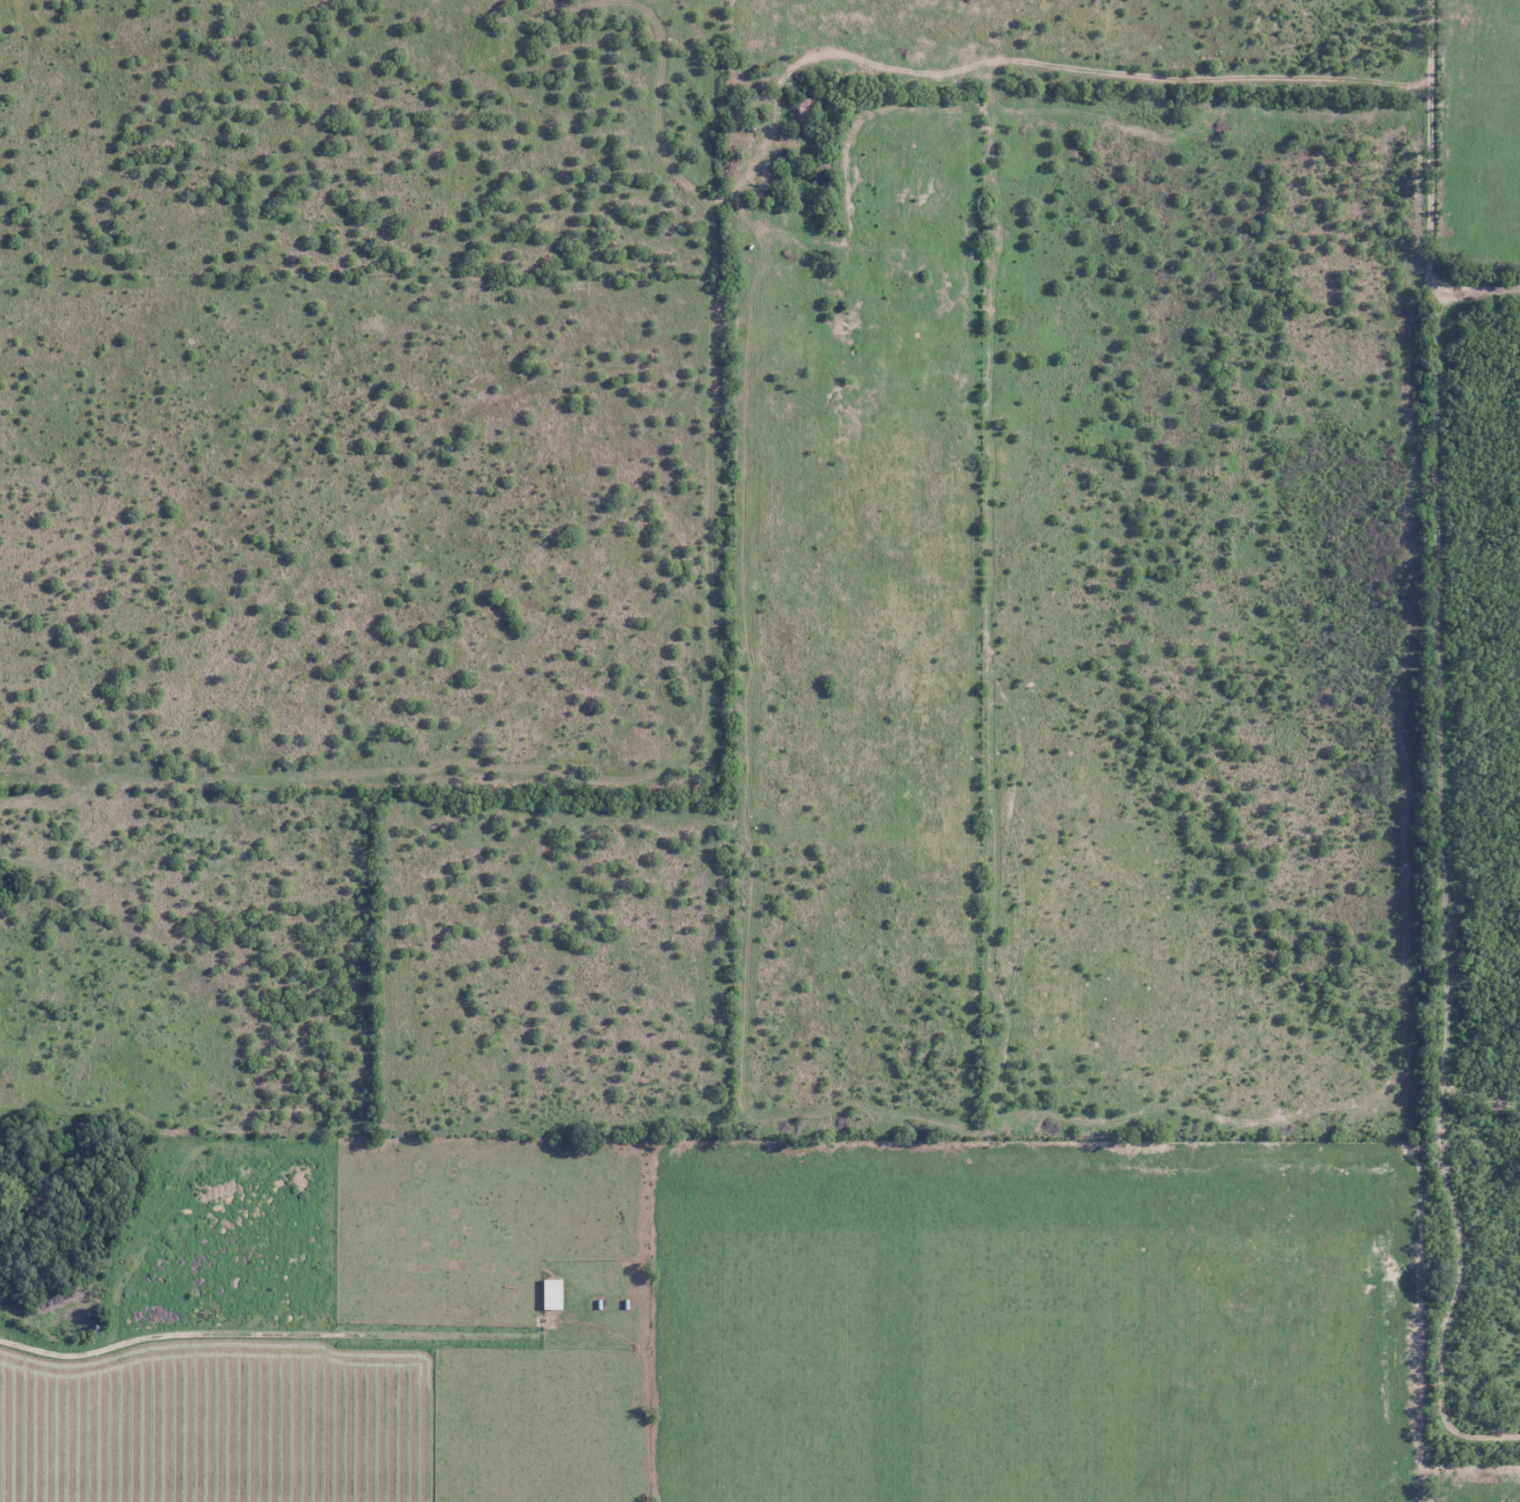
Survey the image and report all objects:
building: (553, 1295)
road: (260, 1336)

